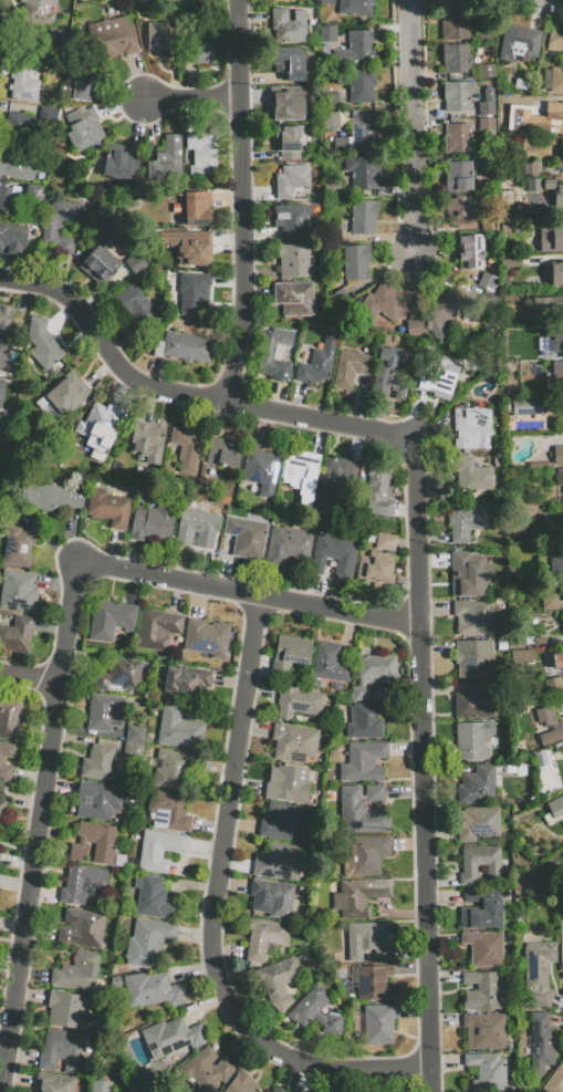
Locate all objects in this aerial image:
building: (294, 0)
building: (198, 1)
building: (327, 2)
building: (355, 8)
building: (38, 12)
building: (453, 25)
building: (286, 27)
building: (327, 33)
building: (113, 35)
building: (55, 39)
building: (160, 39)
building: (554, 40)
building: (520, 45)
building: (30, 49)
building: (355, 50)
building: (199, 51)
building: (456, 58)
building: (289, 62)
building: (85, 79)
building: (556, 80)
building: (23, 85)
building: (362, 85)
building: (522, 87)
building: (457, 95)
road: (194, 100)
building: (332, 101)
building: (291, 102)
building: (487, 112)
building: (538, 118)
building: (330, 121)
building: (15, 122)
building: (484, 123)
road: (415, 128)
building: (82, 129)
building: (362, 133)
building: (457, 137)
building: (288, 143)
building: (201, 155)
building: (561, 155)
building: (166, 160)
building: (121, 162)
building: (13, 166)
building: (531, 171)
building: (364, 173)
building: (458, 176)
building: (291, 180)
building: (332, 188)
building: (549, 188)
building: (34, 194)
building: (533, 195)
building: (557, 197)
road: (242, 201)
building: (10, 205)
building: (197, 209)
building: (459, 209)
building: (363, 217)
building: (293, 219)
building: (62, 221)
building: (332, 233)
building: (551, 239)
building: (10, 241)
building: (187, 247)
building: (66, 248)
building: (471, 251)
building: (296, 259)
building: (511, 261)
building: (356, 262)
building: (138, 264)
building: (102, 267)
building: (556, 274)
building: (486, 282)
building: (192, 298)
building: (294, 298)
building: (336, 298)
building: (511, 298)
building: (384, 305)
building: (548, 308)
building: (442, 312)
building: (140, 313)
building: (6, 318)
building: (416, 330)
building: (554, 340)
building: (41, 343)
building: (187, 346)
building: (272, 352)
building: (4, 353)
building: (315, 365)
building: (350, 368)
building: (557, 370)
building: (388, 373)
building: (438, 379)
building: (1, 391)
road: (189, 394)
building: (62, 395)
building: (525, 406)
building: (100, 428)
building: (473, 430)
building: (146, 441)
building: (185, 449)
building: (225, 453)
building: (557, 455)
building: (260, 469)
building: (300, 472)
building: (473, 475)
building: (333, 479)
building: (559, 483)
building: (378, 490)
building: (51, 497)
building: (108, 508)
building: (466, 522)
building: (152, 523)
building: (195, 524)
building: (246, 537)
building: (385, 541)
building: (17, 547)
building: (286, 547)
building: (336, 553)
building: (510, 568)
building: (556, 568)
building: (375, 569)
building: (470, 574)
building: (18, 591)
building: (550, 603)
building: (475, 617)
building: (111, 620)
building: (156, 630)
building: (17, 634)
building: (206, 637)
building: (517, 639)
building: (501, 644)
building: (291, 652)
road: (65, 656)
building: (521, 656)
building: (475, 658)
building: (559, 659)
building: (329, 667)
building: (373, 673)
building: (118, 676)
road: (29, 680)
building: (187, 682)
building: (551, 684)
building: (298, 701)
building: (476, 701)
building: (105, 713)
building: (544, 717)
building: (9, 718)
building: (366, 719)
building: (179, 729)
building: (136, 734)
building: (551, 736)
building: (472, 740)
building: (293, 743)
building: (562, 746)
building: (133, 750)
building: (1, 761)
building: (364, 761)
building: (100, 763)
road: (425, 765)
building: (173, 767)
building: (289, 783)
building: (478, 786)
building: (3, 790)
building: (375, 795)
building: (97, 800)
building: (555, 808)
building: (170, 810)
building: (2, 811)
building: (359, 813)
building: (283, 821)
building: (479, 823)
building: (96, 844)
building: (159, 850)
building: (364, 854)
building: (278, 862)
building: (479, 863)
building: (83, 884)
building: (154, 898)
building: (272, 898)
building: (358, 898)
road: (221, 904)
building: (482, 915)
building: (82, 927)
building: (263, 937)
building: (147, 942)
building: (368, 942)
building: (483, 948)
building: (561, 948)
building: (538, 970)
building: (76, 971)
building: (278, 981)
building: (369, 981)
building: (152, 989)
building: (482, 991)
building: (65, 1009)
building: (315, 1012)
building: (378, 1025)
building: (483, 1031)
building: (173, 1037)
building: (541, 1043)
building: (61, 1051)
building: (206, 1071)
building: (487, 1071)
building: (554, 1080)
building: (54, 1082)
building: (241, 1084)
building: (101, 1085)
building: (150, 1089)
building: (274, 1090)

